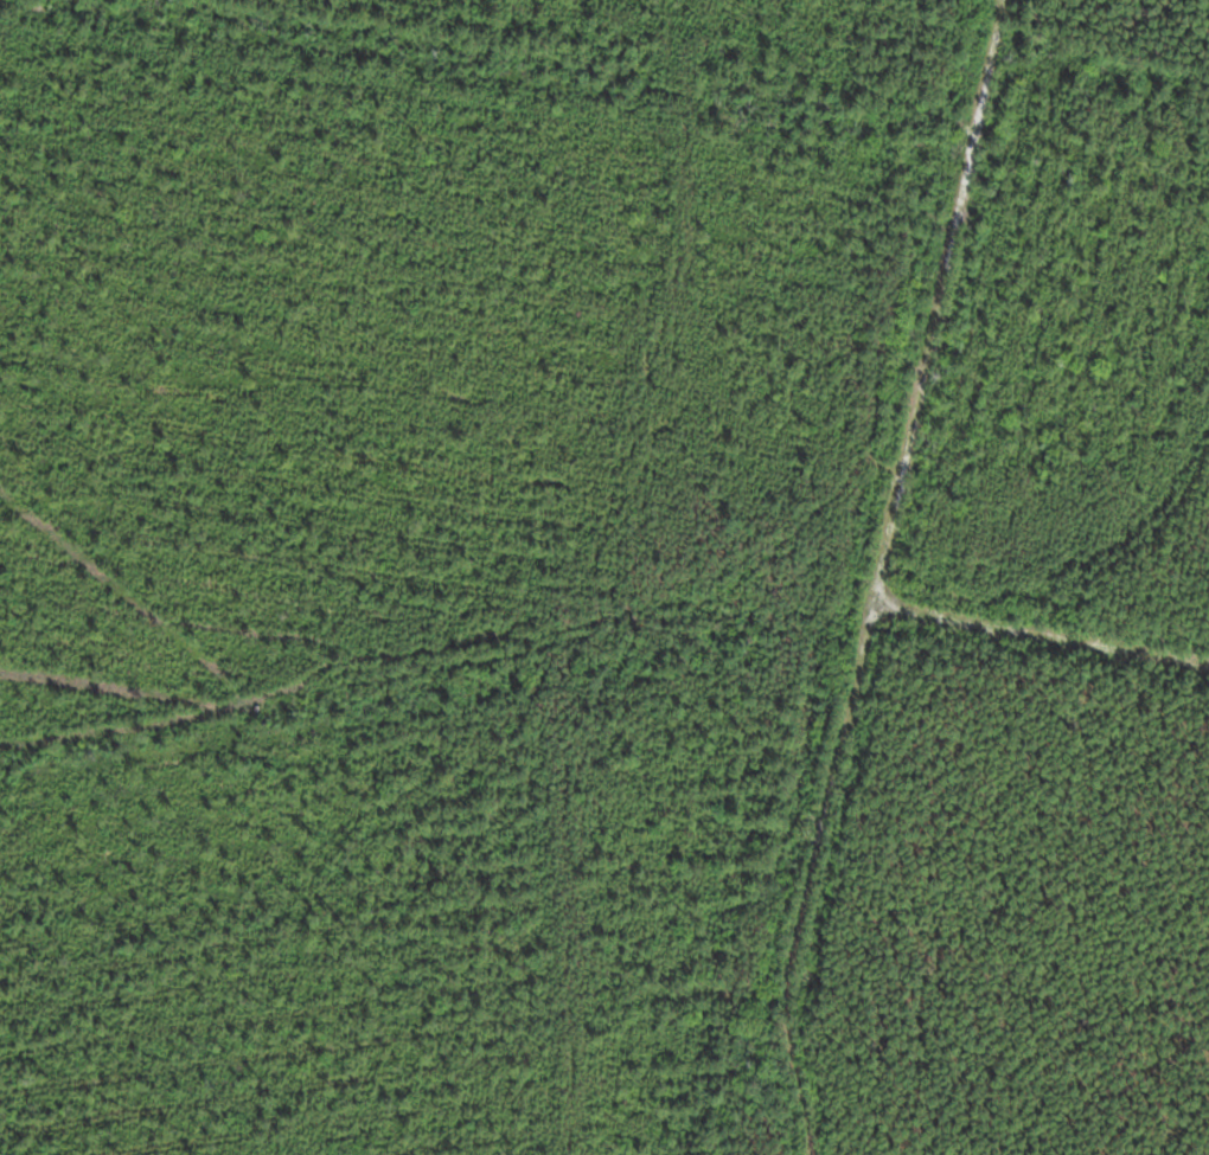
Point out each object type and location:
road: (885, 507)

